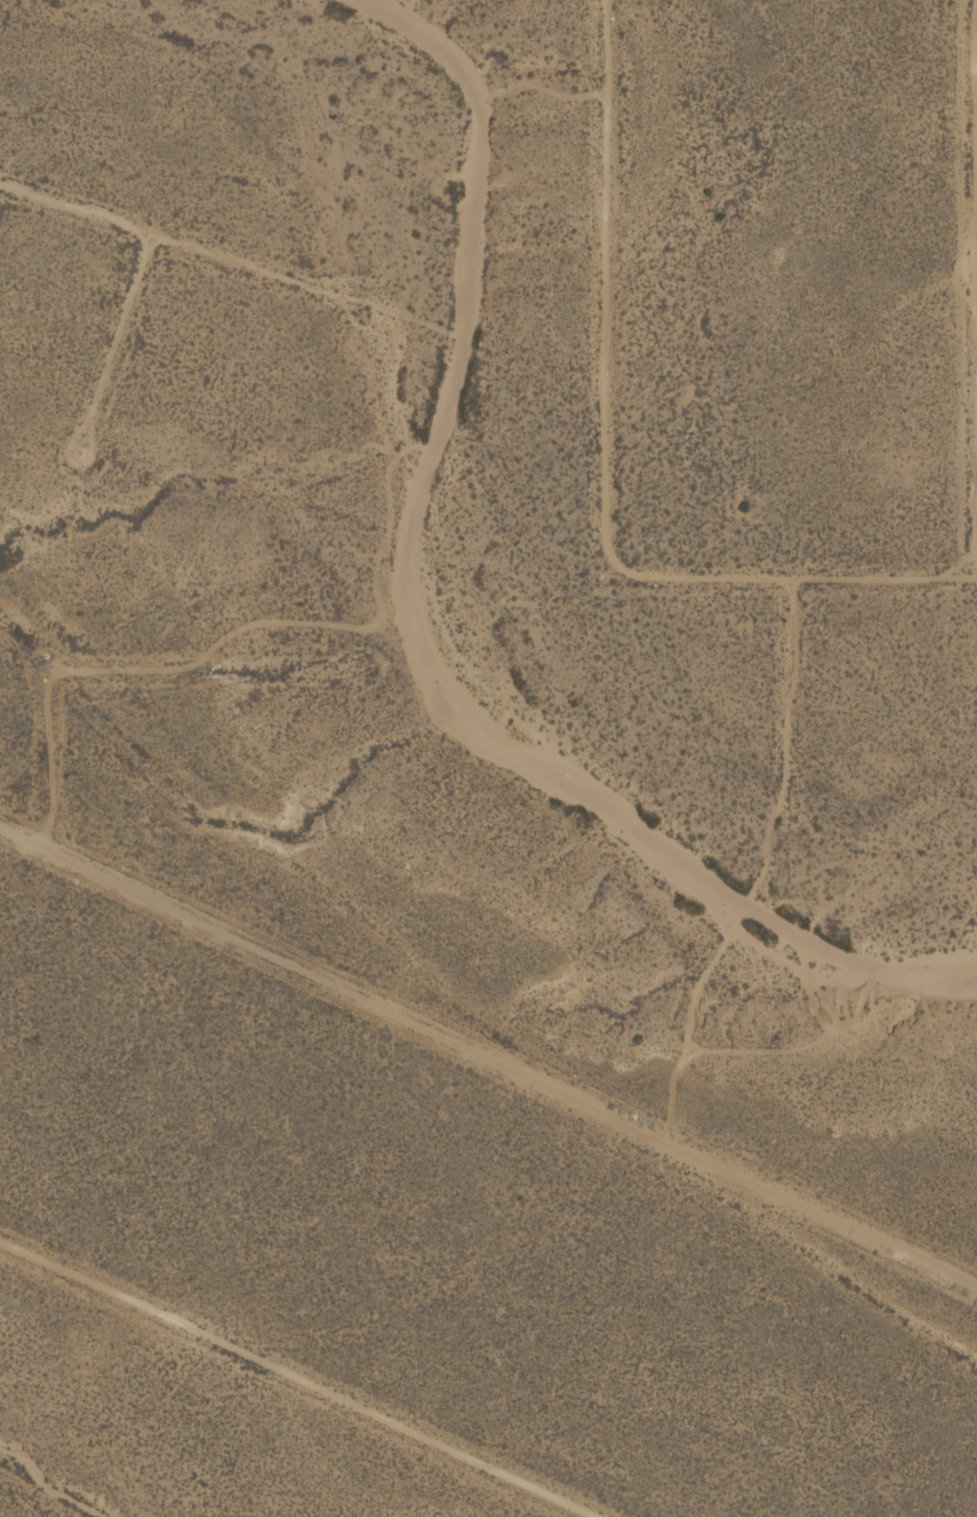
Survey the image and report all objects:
road: (48, 753)
road: (488, 1055)
road: (302, 1377)

